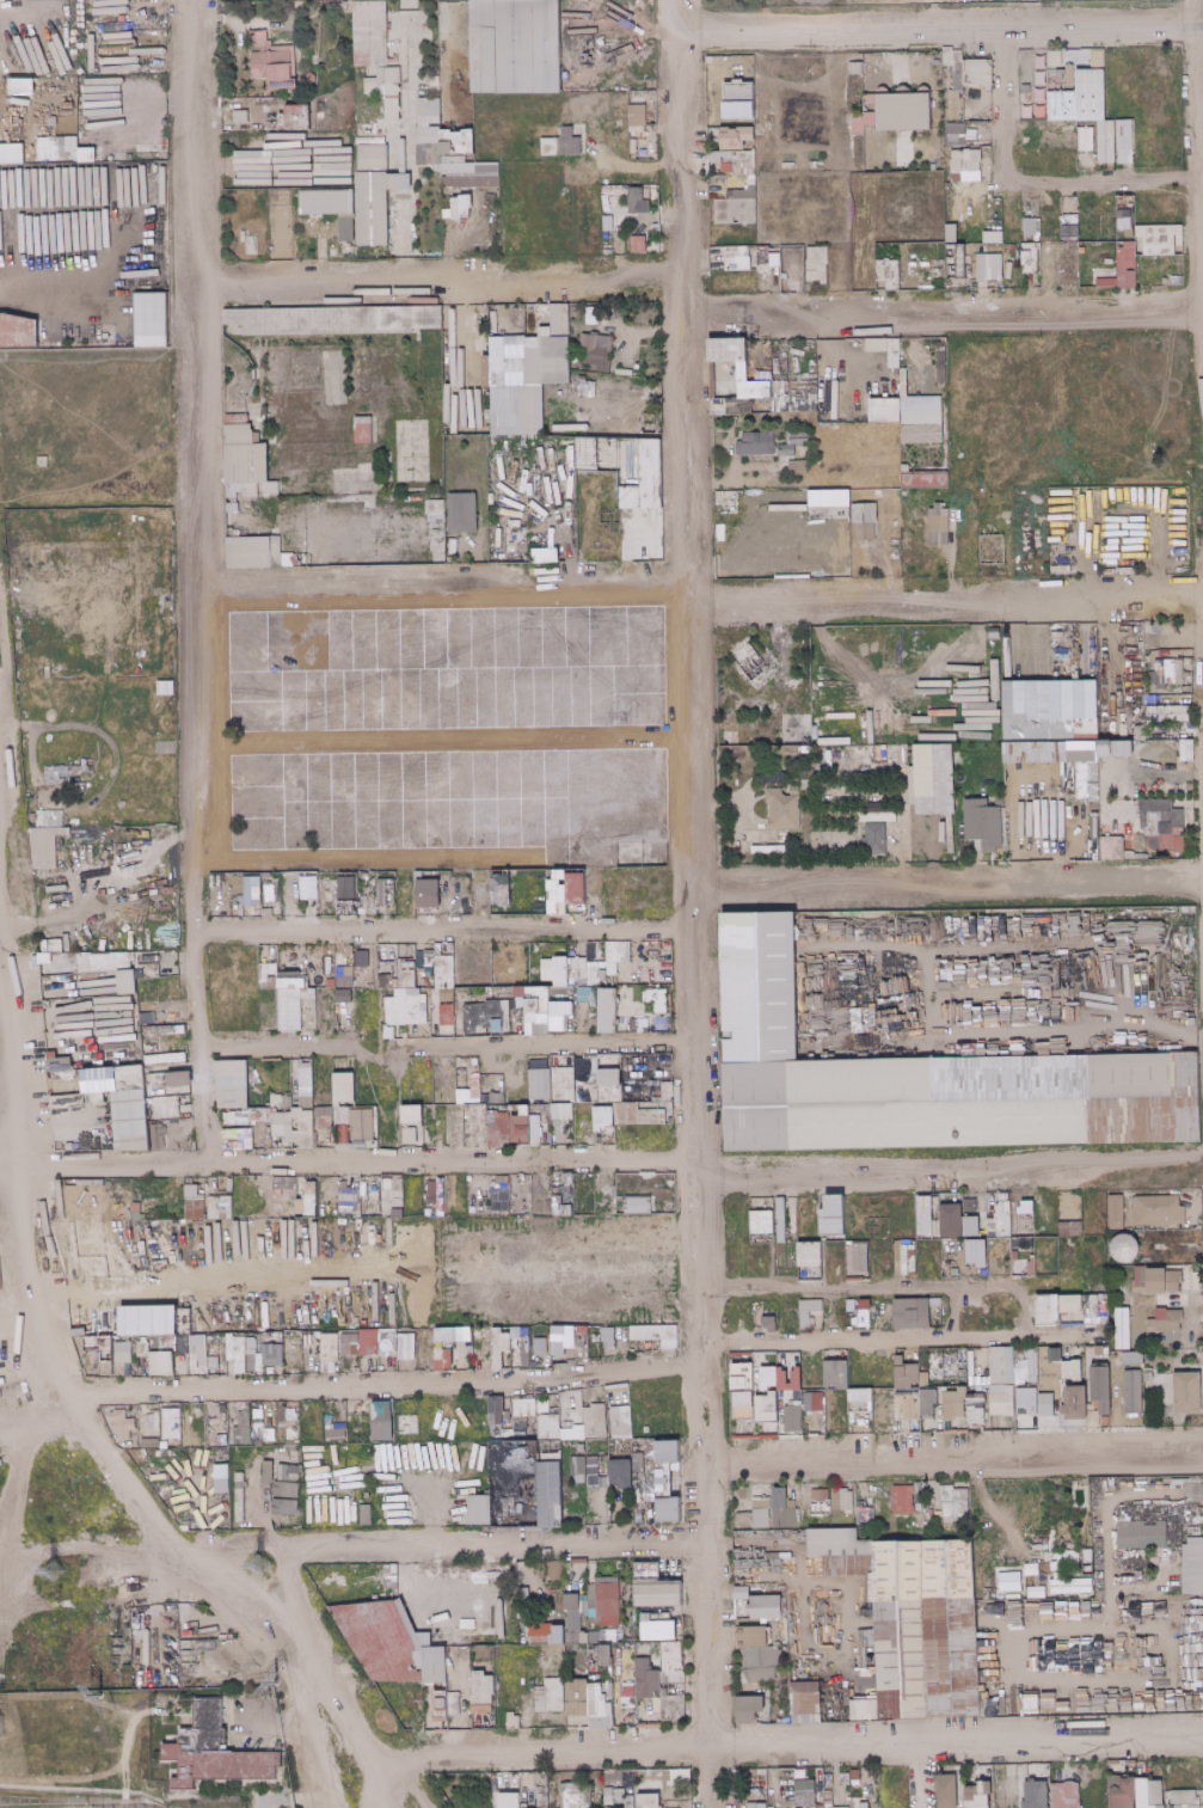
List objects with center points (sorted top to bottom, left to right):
power tower: (252, 1565)
power tower: (47, 1570)
power tower: (272, 1684)
power tower: (96, 1697)
power tower: (156, 1714)
power substation: (141, 1751)

